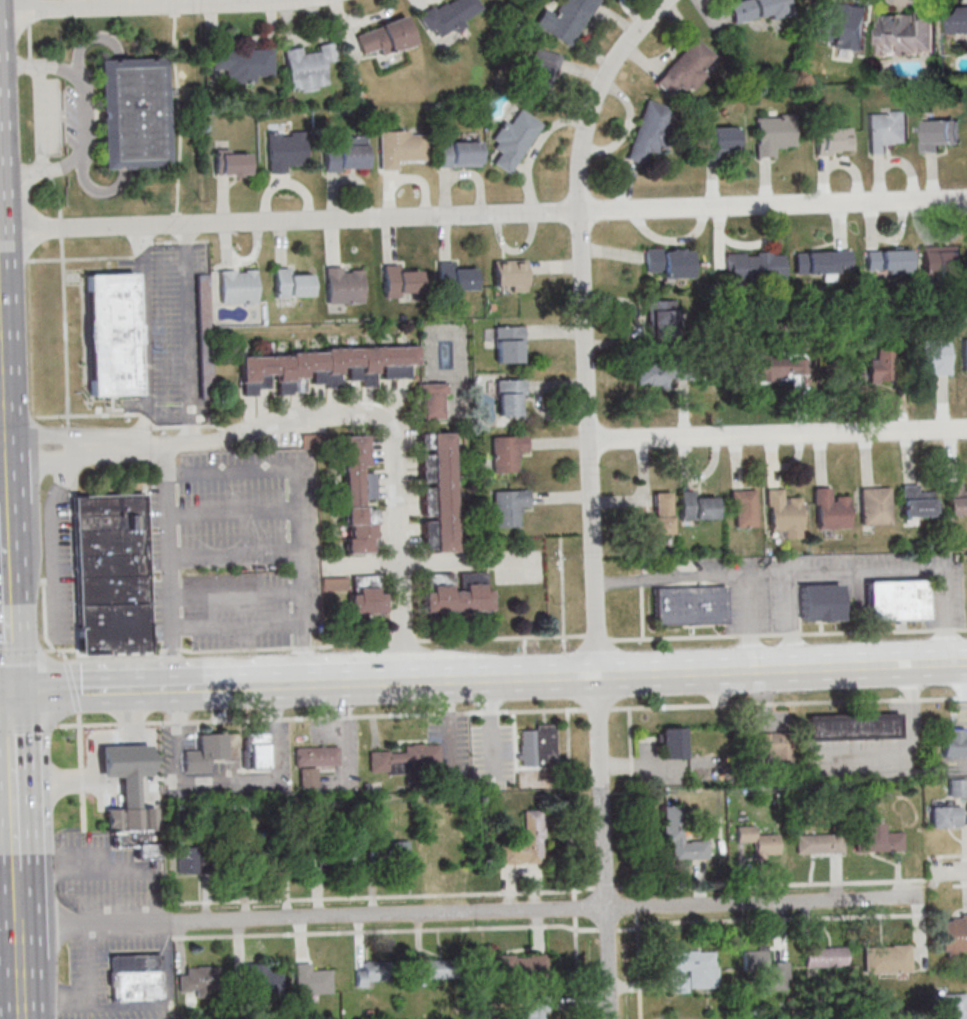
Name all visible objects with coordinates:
road: (153, 6)
road: (175, 8)
building: (756, 9)
road: (29, 13)
building: (449, 16)
building: (565, 20)
building: (959, 20)
building: (843, 25)
building: (908, 33)
building: (384, 36)
road: (30, 42)
building: (242, 63)
building: (543, 65)
building: (308, 66)
road: (33, 67)
building: (685, 68)
building: (130, 113)
road: (178, 114)
road: (37, 117)
road: (85, 117)
building: (887, 129)
building: (650, 132)
building: (773, 133)
building: (939, 134)
building: (514, 139)
building: (833, 140)
building: (719, 141)
building: (400, 147)
building: (284, 150)
building: (458, 154)
building: (346, 155)
building: (231, 163)
road: (44, 166)
road: (58, 196)
road: (483, 215)
road: (176, 219)
road: (60, 227)
road: (184, 231)
road: (120, 256)
building: (887, 261)
building: (941, 261)
building: (667, 262)
building: (823, 262)
building: (755, 267)
building: (509, 275)
building: (455, 277)
building: (400, 281)
building: (291, 284)
building: (237, 285)
building: (343, 285)
building: (203, 304)
building: (661, 318)
road: (584, 326)
road: (64, 331)
building: (109, 333)
parking lot: (173, 334)
building: (508, 344)
building: (964, 355)
building: (934, 356)
building: (779, 366)
building: (880, 366)
building: (323, 368)
building: (207, 374)
building: (661, 374)
road: (2, 397)
building: (511, 397)
building: (432, 401)
road: (286, 409)
road: (1, 410)
road: (162, 413)
road: (364, 414)
road: (369, 421)
road: (778, 435)
road: (45, 440)
road: (2, 450)
building: (507, 452)
road: (46, 454)
road: (71, 470)
road: (5, 472)
road: (2, 473)
road: (294, 484)
building: (437, 492)
building: (358, 496)
building: (956, 499)
building: (916, 502)
building: (875, 505)
building: (697, 506)
building: (508, 507)
building: (743, 508)
building: (830, 509)
road: (233, 514)
building: (783, 514)
building: (657, 516)
road: (6, 523)
road: (3, 543)
road: (234, 557)
road: (409, 560)
road: (391, 561)
road: (427, 561)
road: (170, 565)
road: (54, 568)
road: (867, 572)
building: (110, 574)
road: (719, 576)
building: (359, 592)
building: (456, 592)
road: (562, 594)
road: (235, 595)
building: (896, 599)
building: (820, 602)
building: (690, 605)
road: (392, 606)
road: (411, 607)
road: (641, 613)
road: (8, 623)
road: (236, 626)
road: (788, 634)
road: (598, 637)
road: (502, 638)
road: (403, 640)
road: (33, 642)
road: (351, 644)
road: (304, 647)
road: (59, 649)
road: (237, 649)
road: (23, 650)
road: (64, 654)
road: (304, 654)
road: (653, 675)
road: (292, 684)
road: (73, 685)
road: (227, 686)
road: (109, 690)
road: (5, 695)
traffic signals: (10, 695)
road: (273, 699)
road: (789, 702)
road: (598, 708)
road: (321, 718)
building: (853, 726)
road: (29, 727)
building: (953, 742)
building: (672, 743)
road: (276, 745)
building: (537, 746)
building: (772, 748)
building: (257, 750)
building: (205, 752)
road: (93, 756)
building: (408, 757)
building: (314, 762)
road: (82, 769)
building: (125, 769)
road: (179, 777)
road: (14, 782)
building: (957, 787)
road: (633, 802)
road: (571, 804)
building: (945, 816)
building: (129, 819)
building: (681, 835)
building: (876, 838)
building: (526, 842)
building: (758, 842)
building: (818, 843)
road: (604, 848)
building: (355, 851)
building: (298, 853)
building: (250, 854)
building: (400, 854)
road: (952, 855)
building: (195, 859)
road: (950, 872)
road: (780, 883)
road: (954, 885)
road: (17, 892)
road: (9, 893)
road: (401, 895)
road: (637, 906)
road: (575, 907)
road: (469, 913)
road: (770, 917)
road: (606, 929)
road: (385, 930)
building: (954, 934)
road: (19, 939)
building: (885, 956)
building: (823, 957)
building: (519, 964)
road: (638, 966)
road: (576, 967)
building: (435, 969)
building: (693, 970)
building: (763, 971)
building: (369, 973)
building: (135, 977)
building: (262, 978)
building: (310, 979)
building: (200, 981)
road: (10, 987)
road: (21, 991)
building: (949, 1006)
building: (535, 1008)

